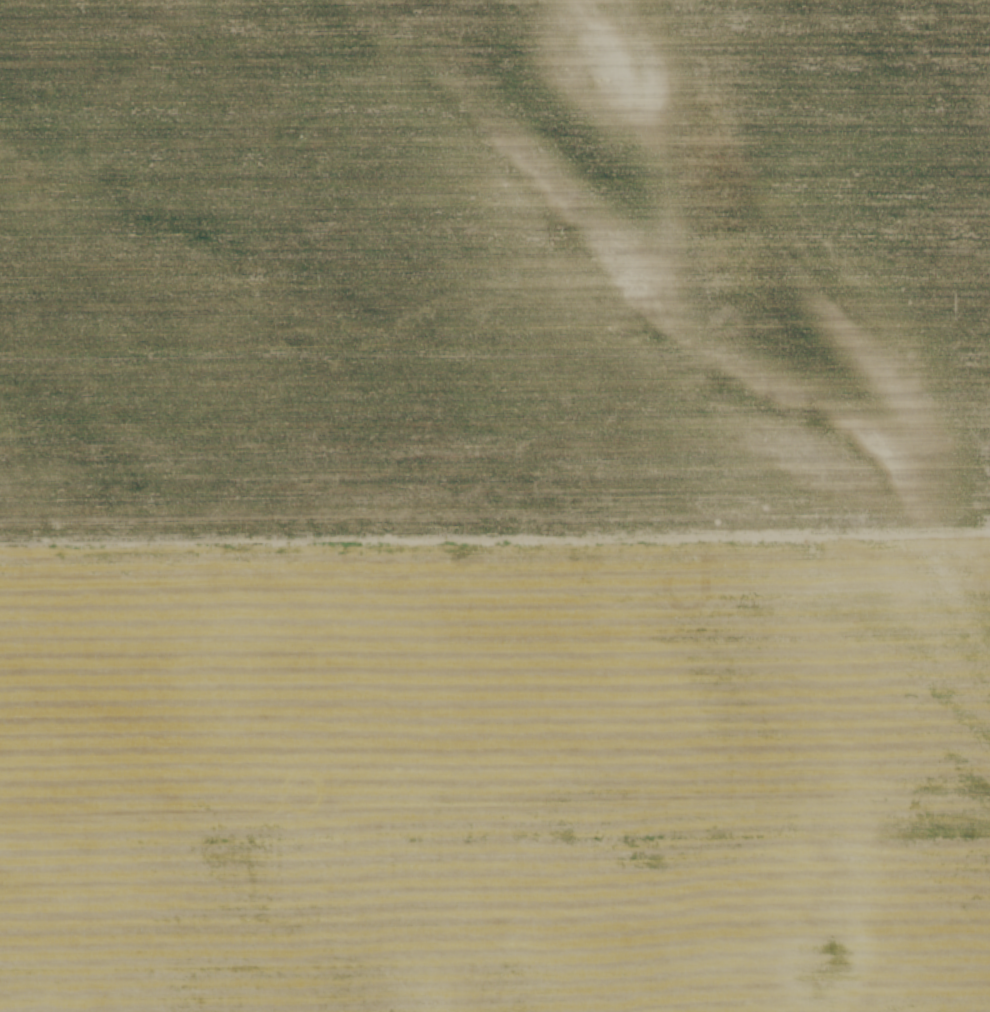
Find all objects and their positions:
crop: (495, 506)

